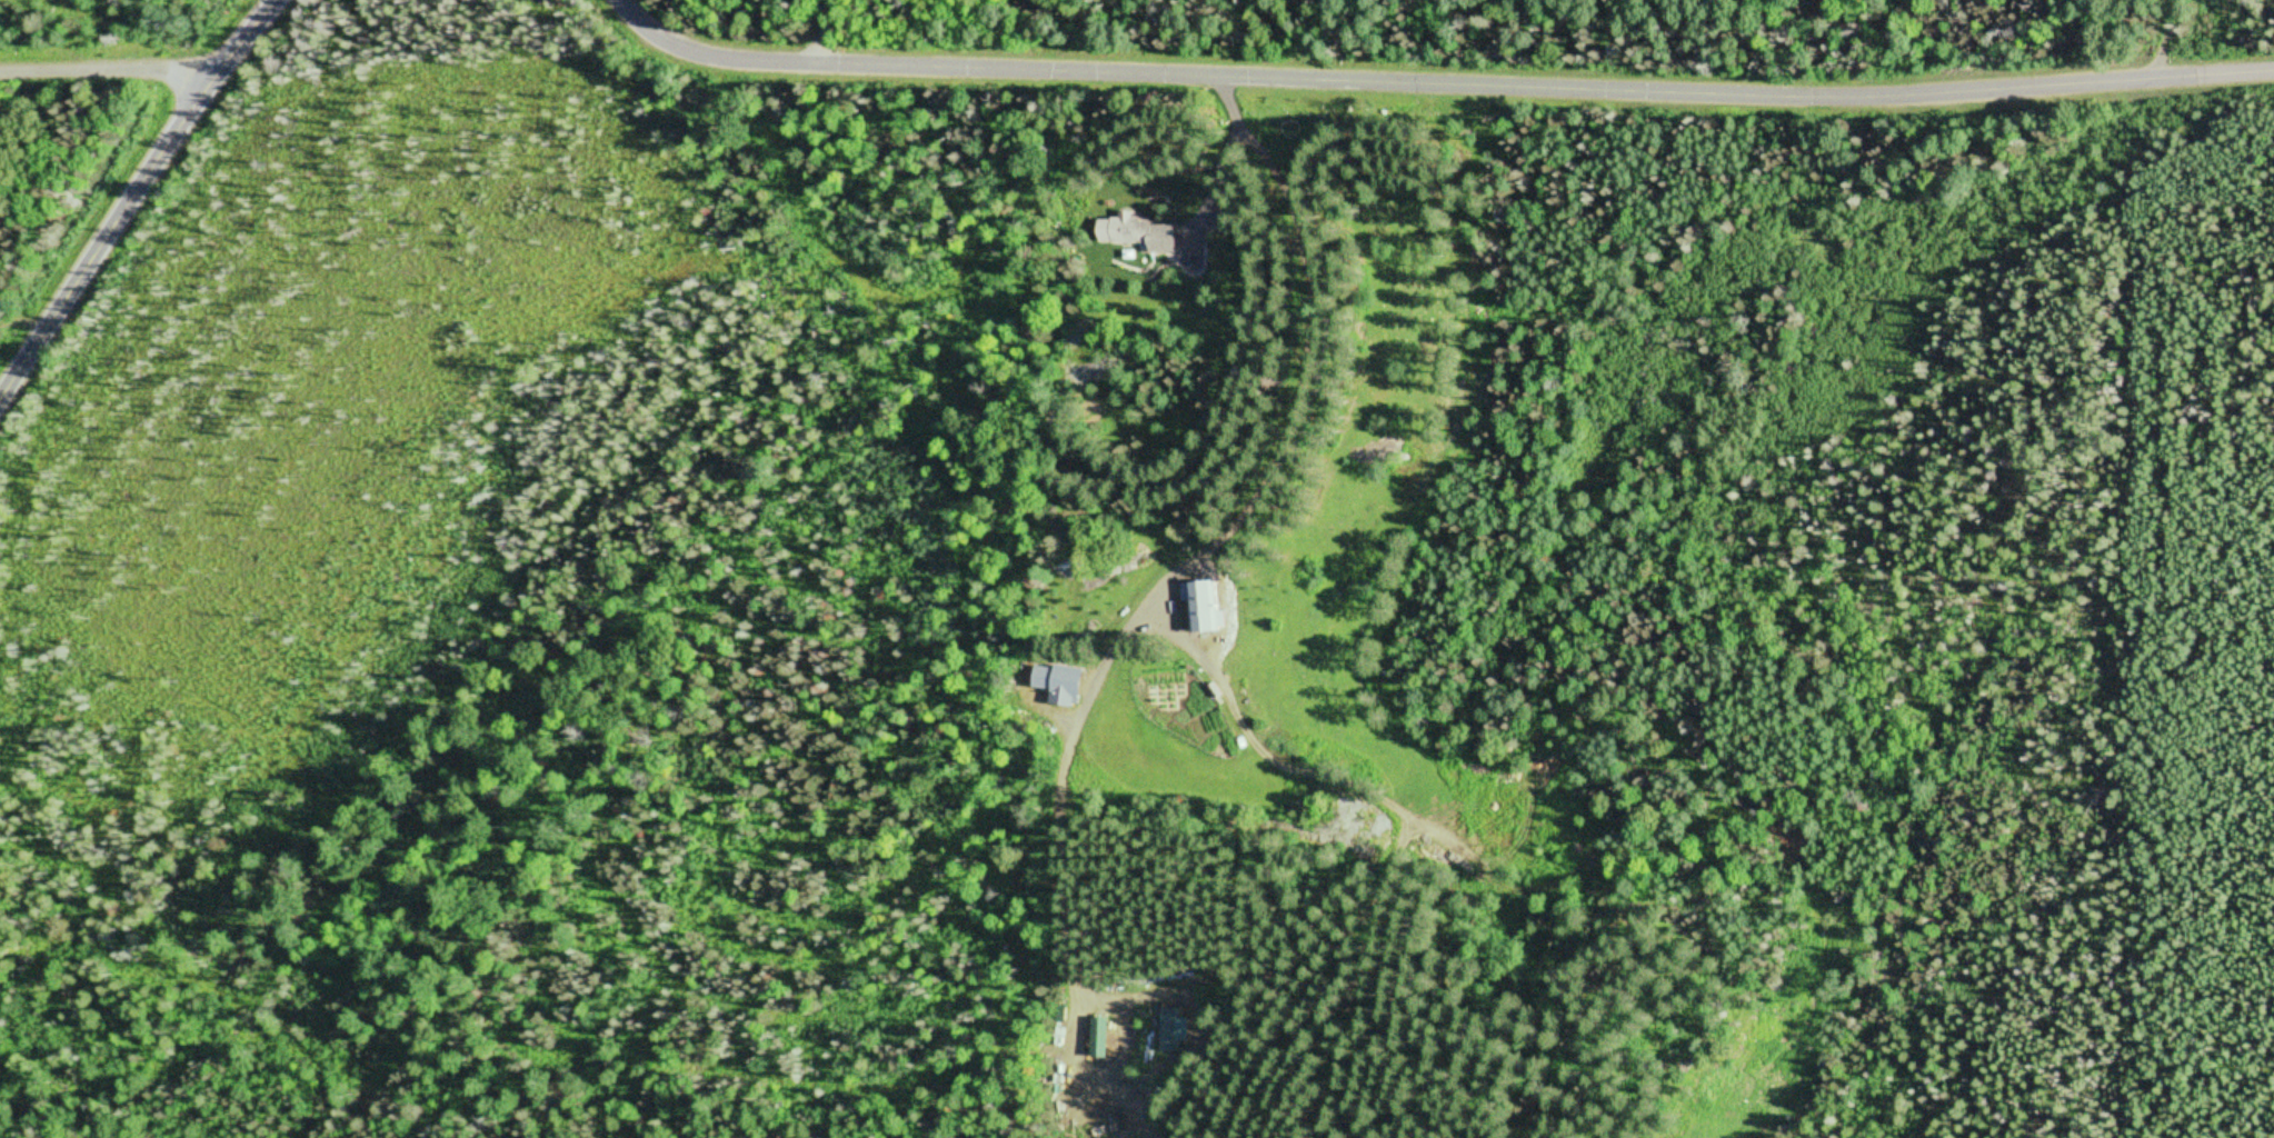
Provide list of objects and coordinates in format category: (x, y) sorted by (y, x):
road: (112, 67)
road: (1353, 76)
road: (2187, 78)
road: (134, 192)
building: (1204, 606)

